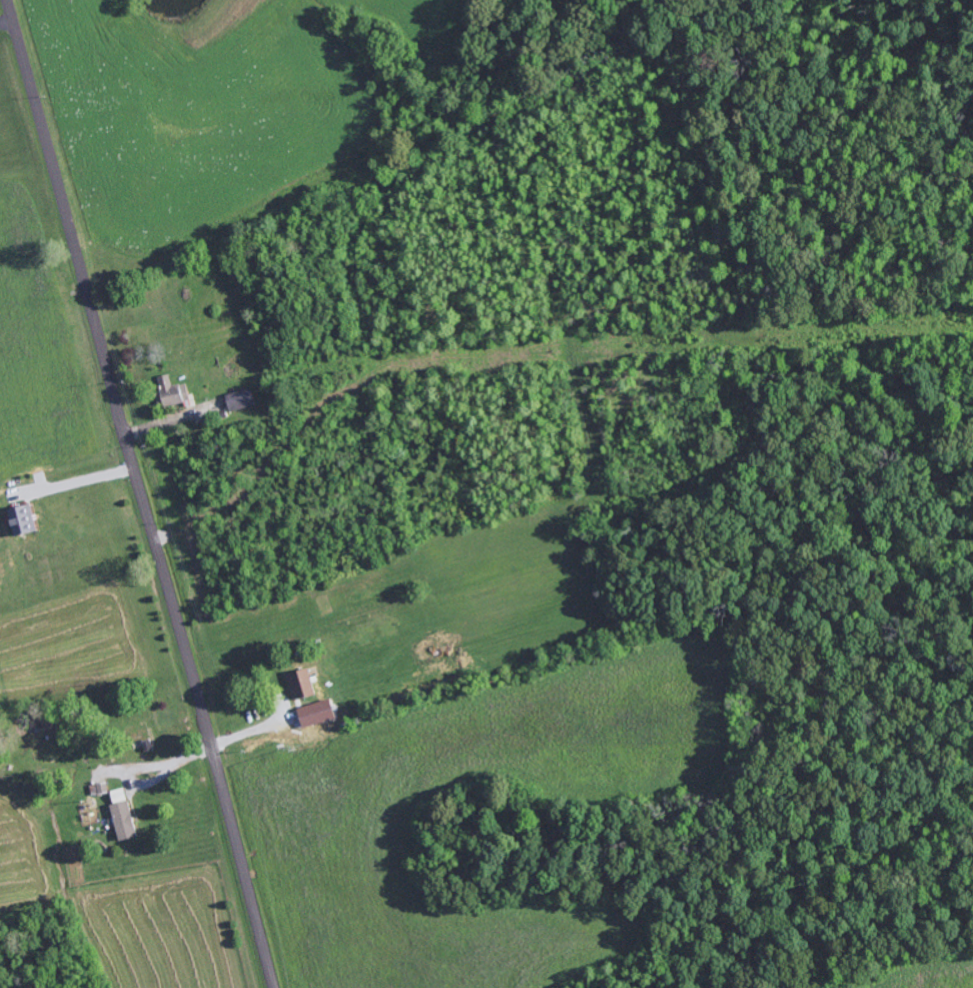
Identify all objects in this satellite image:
building: (176, 392)
building: (244, 400)
road: (143, 493)
building: (28, 521)
building: (305, 685)
building: (308, 715)
building: (102, 789)
building: (128, 821)

